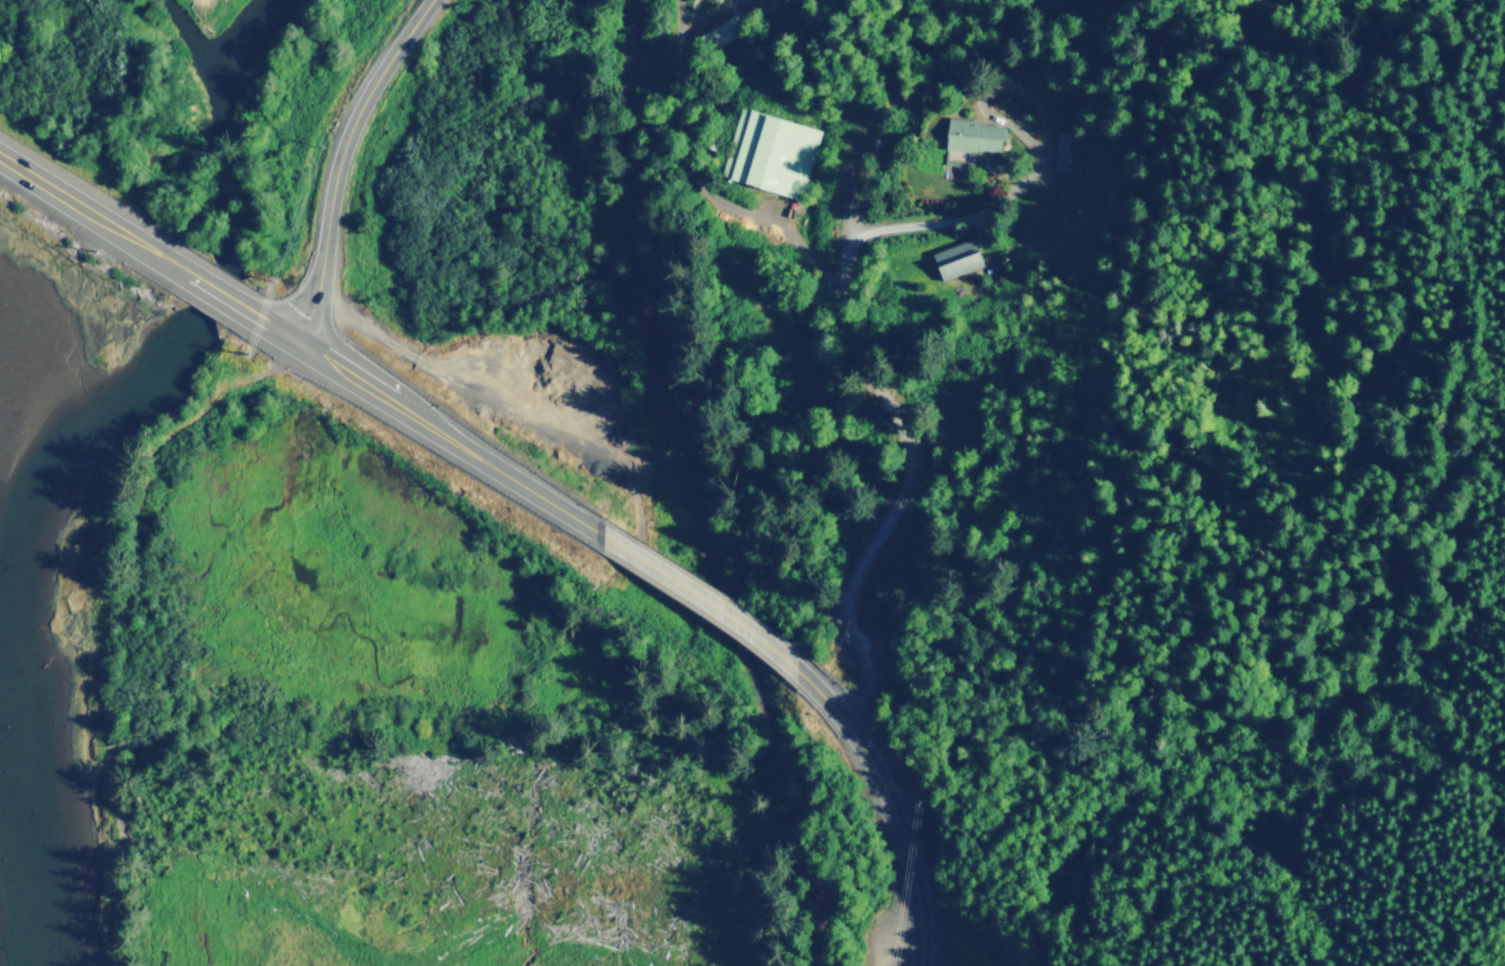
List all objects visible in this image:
road: (1028, 10)
building: (970, 138)
building: (770, 150)
road: (341, 161)
road: (691, 163)
road: (1032, 164)
road: (1348, 184)
road: (88, 210)
building: (956, 257)
road: (215, 292)
road: (863, 343)
road: (430, 424)
railway: (684, 489)
road: (705, 597)
road: (892, 803)

